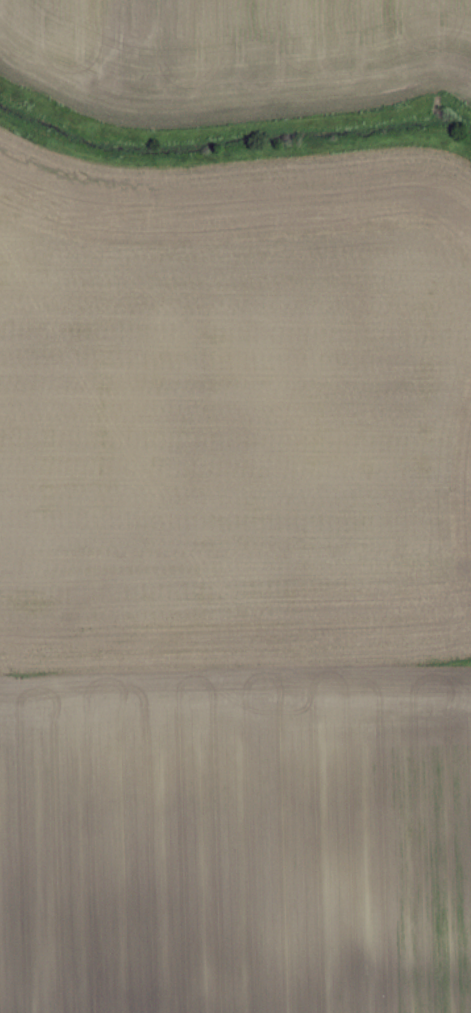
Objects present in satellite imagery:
crop: (234, 54)
crop: (235, 584)

